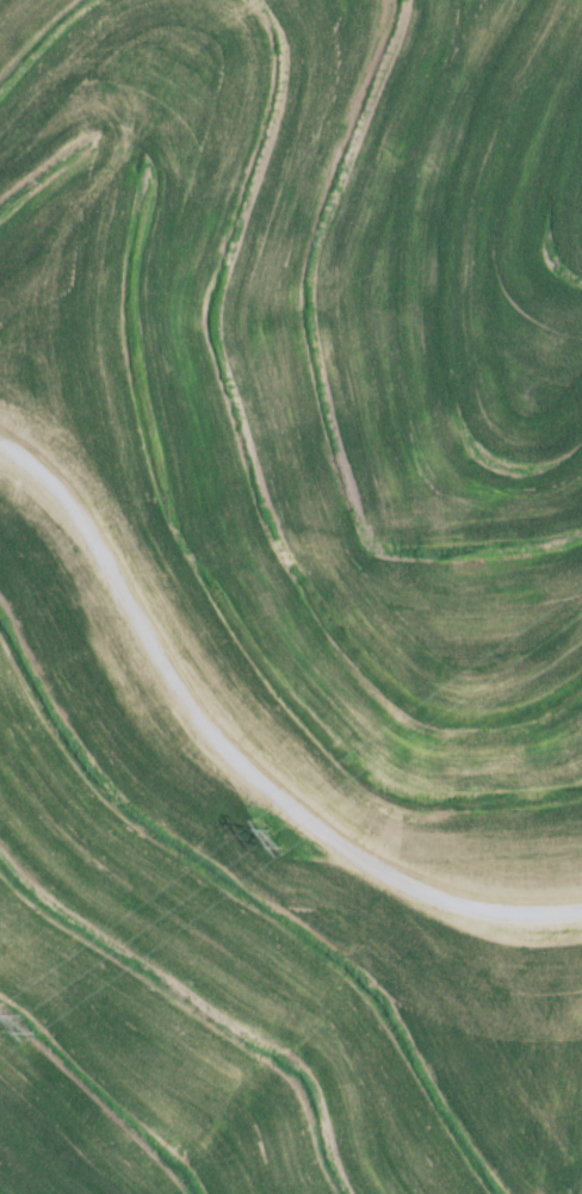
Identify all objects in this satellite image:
power tower: (268, 839)
power tower: (21, 1022)

